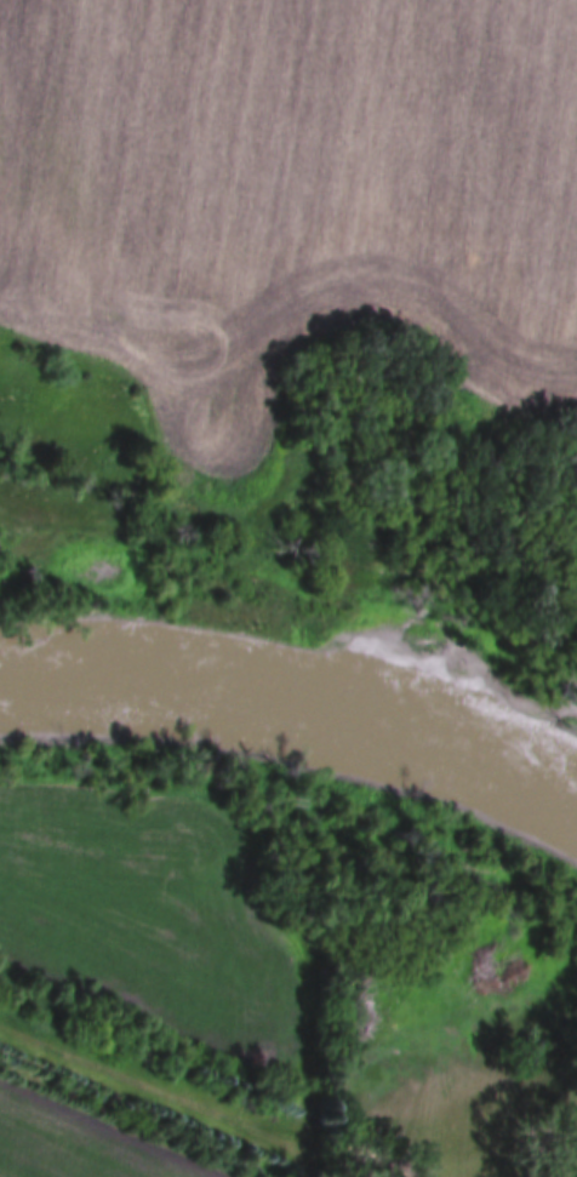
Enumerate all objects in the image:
crop: (288, 201)
river: (293, 696)
crop: (148, 915)
crop: (81, 1142)

